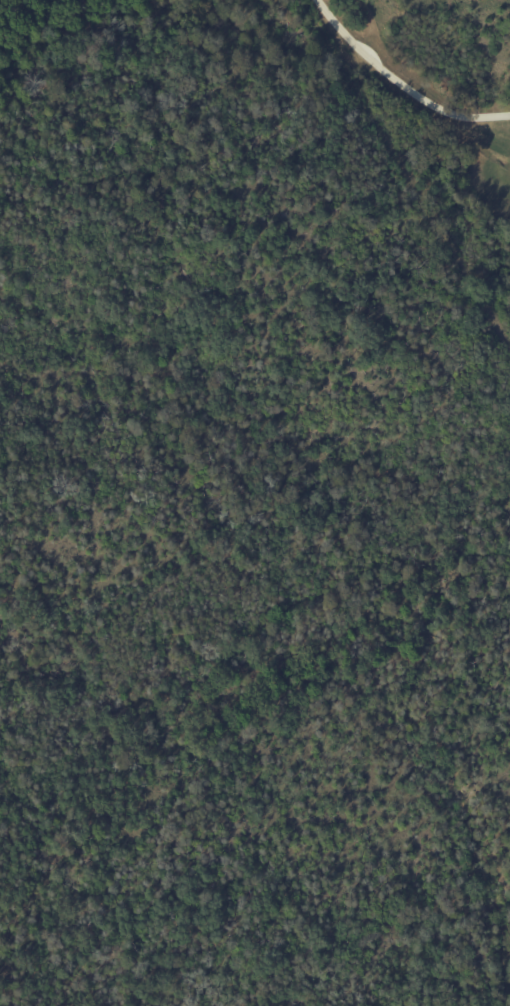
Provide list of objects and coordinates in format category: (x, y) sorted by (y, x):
road: (394, 88)

